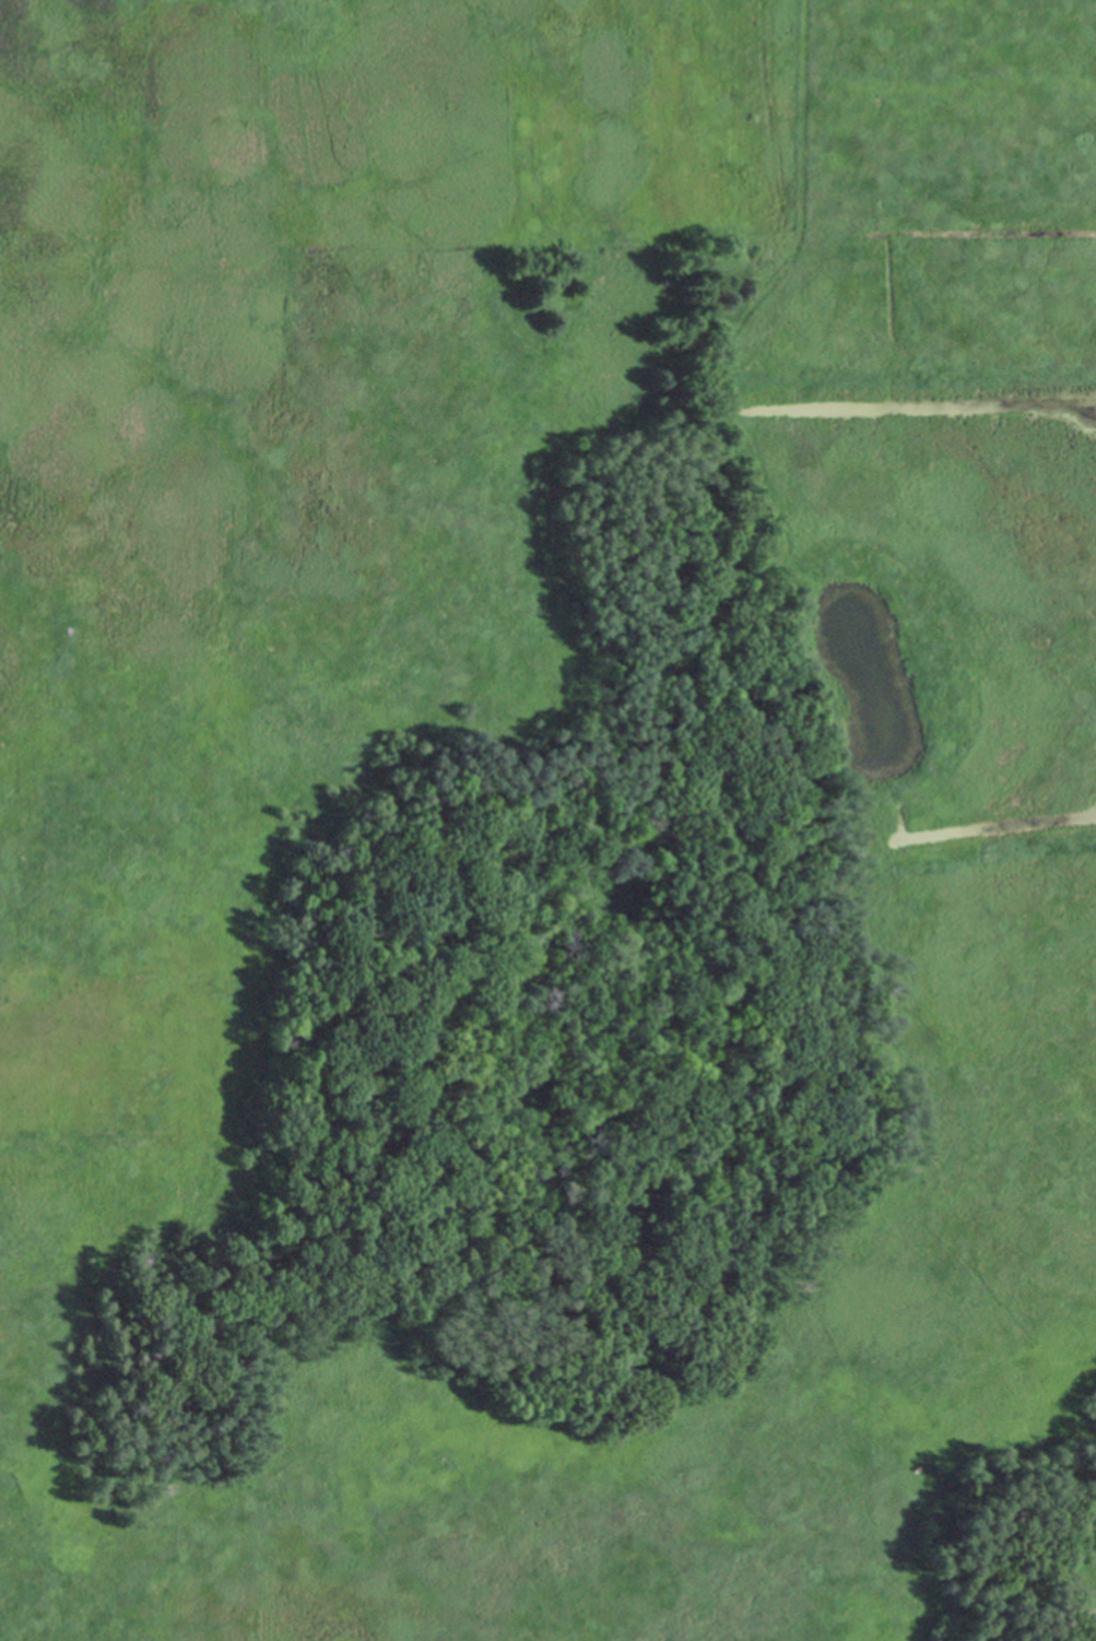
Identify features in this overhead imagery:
building: (21, 335)
building: (72, 628)
building: (91, 640)
building: (397, 1443)
building: (444, 1456)

